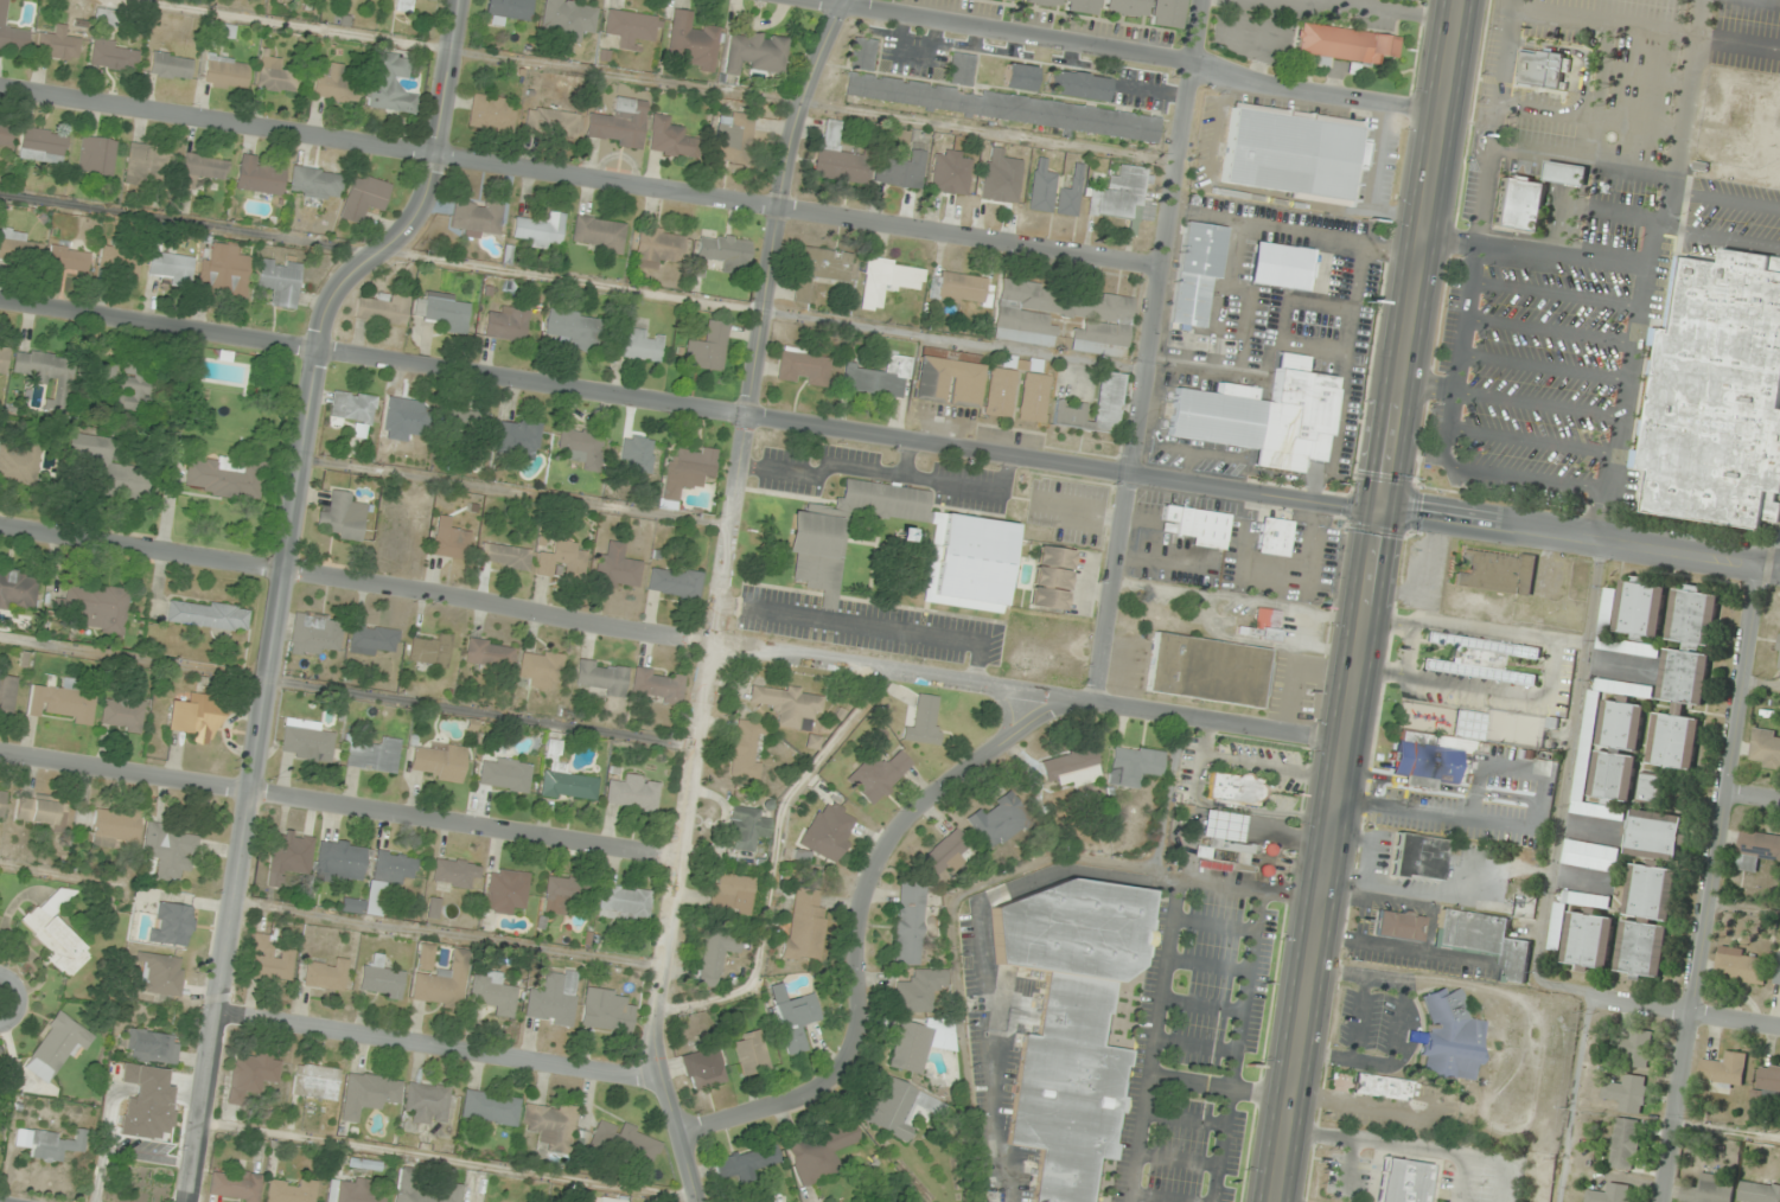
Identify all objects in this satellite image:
building: (429, 0)
building: (1008, 0)
building: (1041, 2)
building: (404, 5)
building: (1080, 6)
building: (1124, 7)
building: (508, 11)
building: (1166, 13)
building: (104, 17)
building: (567, 19)
building: (631, 27)
building: (222, 28)
building: (11, 32)
building: (694, 39)
building: (1344, 43)
building: (58, 44)
building: (755, 51)
road: (1121, 52)
building: (114, 56)
building: (171, 65)
building: (962, 69)
building: (1540, 69)
building: (227, 72)
building: (277, 75)
building: (1020, 76)
building: (390, 82)
building: (336, 84)
building: (1077, 84)
building: (989, 102)
building: (492, 113)
building: (551, 120)
road: (1494, 122)
building: (619, 123)
building: (6, 134)
building: (734, 138)
building: (670, 139)
building: (43, 145)
building: (1293, 152)
building: (97, 155)
building: (837, 156)
building: (146, 165)
building: (202, 168)
building: (902, 170)
building: (951, 172)
road: (581, 175)
building: (259, 177)
building: (315, 183)
building: (1002, 184)
building: (1041, 185)
building: (1071, 193)
building: (1531, 194)
building: (364, 197)
building: (1123, 198)
road: (1725, 200)
building: (477, 217)
building: (540, 230)
building: (599, 232)
road: (1718, 239)
building: (18, 245)
building: (657, 245)
road: (1535, 251)
building: (723, 252)
building: (66, 255)
building: (120, 260)
building: (171, 266)
building: (1280, 266)
building: (819, 269)
road: (1646, 269)
building: (224, 270)
building: (1195, 271)
building: (888, 280)
building: (280, 281)
building: (961, 288)
road: (1555, 294)
building: (383, 308)
building: (442, 312)
building: (1020, 320)
road: (158, 322)
building: (506, 324)
building: (573, 327)
road: (1549, 332)
road: (1461, 335)
building: (639, 345)
building: (708, 347)
road: (1150, 351)
building: (4, 357)
building: (803, 366)
road: (1543, 367)
building: (50, 375)
building: (101, 377)
building: (879, 378)
building: (948, 382)
building: (139, 383)
road: (1427, 386)
building: (1000, 395)
building: (1717, 397)
building: (1108, 402)
road: (1537, 404)
building: (355, 410)
building: (1258, 416)
building: (404, 417)
building: (467, 424)
building: (518, 436)
road: (1531, 441)
building: (581, 448)
building: (639, 449)
building: (21, 461)
road: (1047, 461)
building: (114, 468)
building: (688, 471)
road: (1510, 475)
building: (225, 477)
traffic signals: (1380, 510)
building: (344, 517)
building: (1198, 525)
building: (1274, 536)
building: (971, 537)
building: (448, 542)
building: (505, 556)
building: (563, 561)
building: (617, 569)
building: (1495, 571)
building: (1050, 577)
road: (279, 580)
building: (675, 582)
building: (18, 590)
road: (721, 597)
road: (1366, 600)
building: (96, 608)
building: (1633, 609)
building: (208, 615)
building: (1261, 625)
building: (313, 633)
road: (671, 638)
building: (372, 640)
building: (430, 651)
building: (1779, 652)
building: (490, 653)
building: (1480, 658)
building: (541, 667)
building: (1779, 667)
building: (1207, 670)
building: (601, 677)
building: (1683, 677)
road: (1760, 684)
building: (658, 685)
building: (7, 692)
building: (64, 702)
building: (787, 704)
building: (122, 714)
building: (196, 717)
building: (924, 721)
building: (306, 741)
building: (745, 749)
building: (1765, 749)
building: (1618, 750)
building: (1436, 753)
building: (375, 755)
building: (439, 762)
building: (1134, 766)
building: (1072, 768)
building: (504, 774)
building: (878, 775)
building: (564, 778)
building: (1234, 788)
building: (1650, 788)
building: (633, 793)
road: (1753, 795)
building: (2, 803)
road: (342, 805)
building: (42, 811)
building: (999, 820)
building: (115, 827)
building: (746, 827)
building: (828, 832)
building: (1655, 836)
building: (1221, 842)
building: (1756, 850)
building: (170, 851)
building: (948, 853)
building: (287, 856)
building: (1417, 856)
building: (340, 859)
building: (395, 867)
building: (455, 872)
road: (1711, 884)
building: (505, 891)
building: (1651, 893)
building: (560, 894)
building: (730, 894)
building: (623, 902)
building: (359, 907)
road: (1744, 908)
building: (171, 923)
building: (804, 923)
building: (908, 925)
building: (1397, 925)
building: (56, 933)
road: (857, 936)
building: (1485, 940)
building: (1556, 940)
building: (1589, 941)
building: (1641, 948)
building: (715, 954)
building: (269, 959)
building: (1741, 967)
building: (1776, 970)
building: (161, 973)
building: (326, 976)
building: (381, 979)
building: (440, 979)
building: (919, 990)
building: (493, 992)
building: (553, 998)
road: (18, 999)
building: (606, 1011)
road: (1686, 1012)
building: (796, 1022)
building: (1070, 1025)
building: (1450, 1037)
building: (153, 1046)
road: (439, 1046)
building: (912, 1046)
building: (57, 1047)
building: (1637, 1049)
building: (751, 1053)
building: (706, 1068)
building: (1724, 1070)
building: (253, 1073)
building: (1769, 1080)
building: (315, 1081)
building: (1380, 1086)
building: (151, 1088)
building: (1628, 1093)
building: (369, 1094)
building: (428, 1101)
building: (491, 1107)
building: (899, 1107)
building: (550, 1125)
road: (1729, 1133)
building: (625, 1140)
building: (1625, 1142)
building: (56, 1145)
building: (818, 1151)
building: (745, 1163)
building: (1403, 1181)
building: (408, 1183)
building: (234, 1184)
building: (291, 1190)
building: (1706, 1190)
building: (350, 1193)
building: (1759, 1193)
building: (1609, 1195)
building: (610, 1200)

